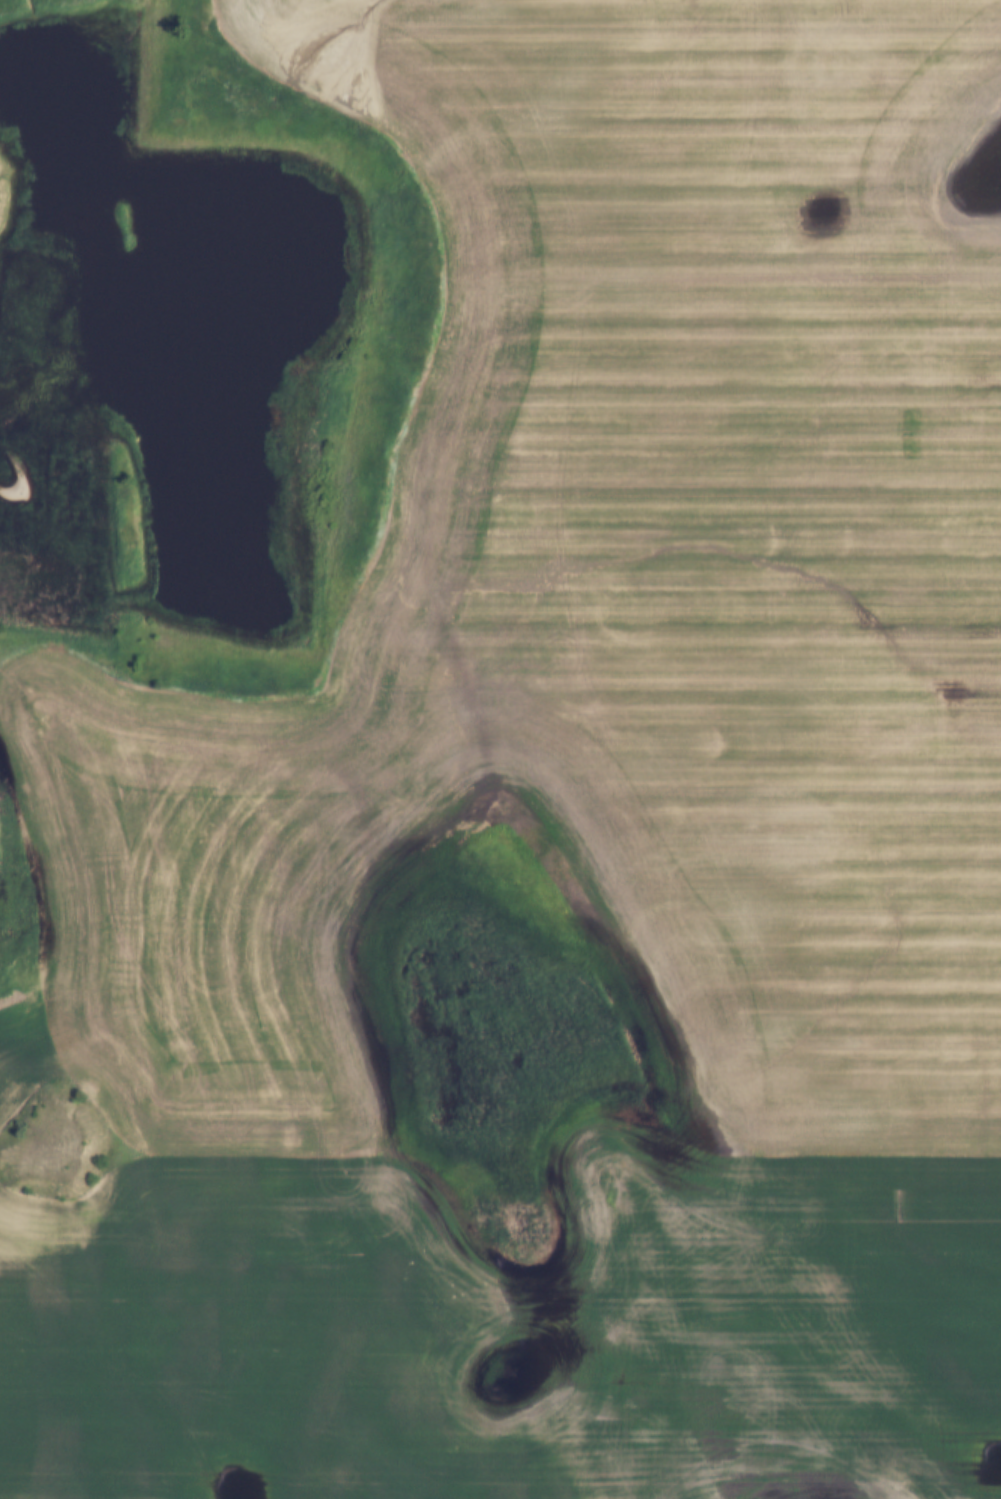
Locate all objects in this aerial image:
quarry: (2, 186)
road: (10, 1232)

